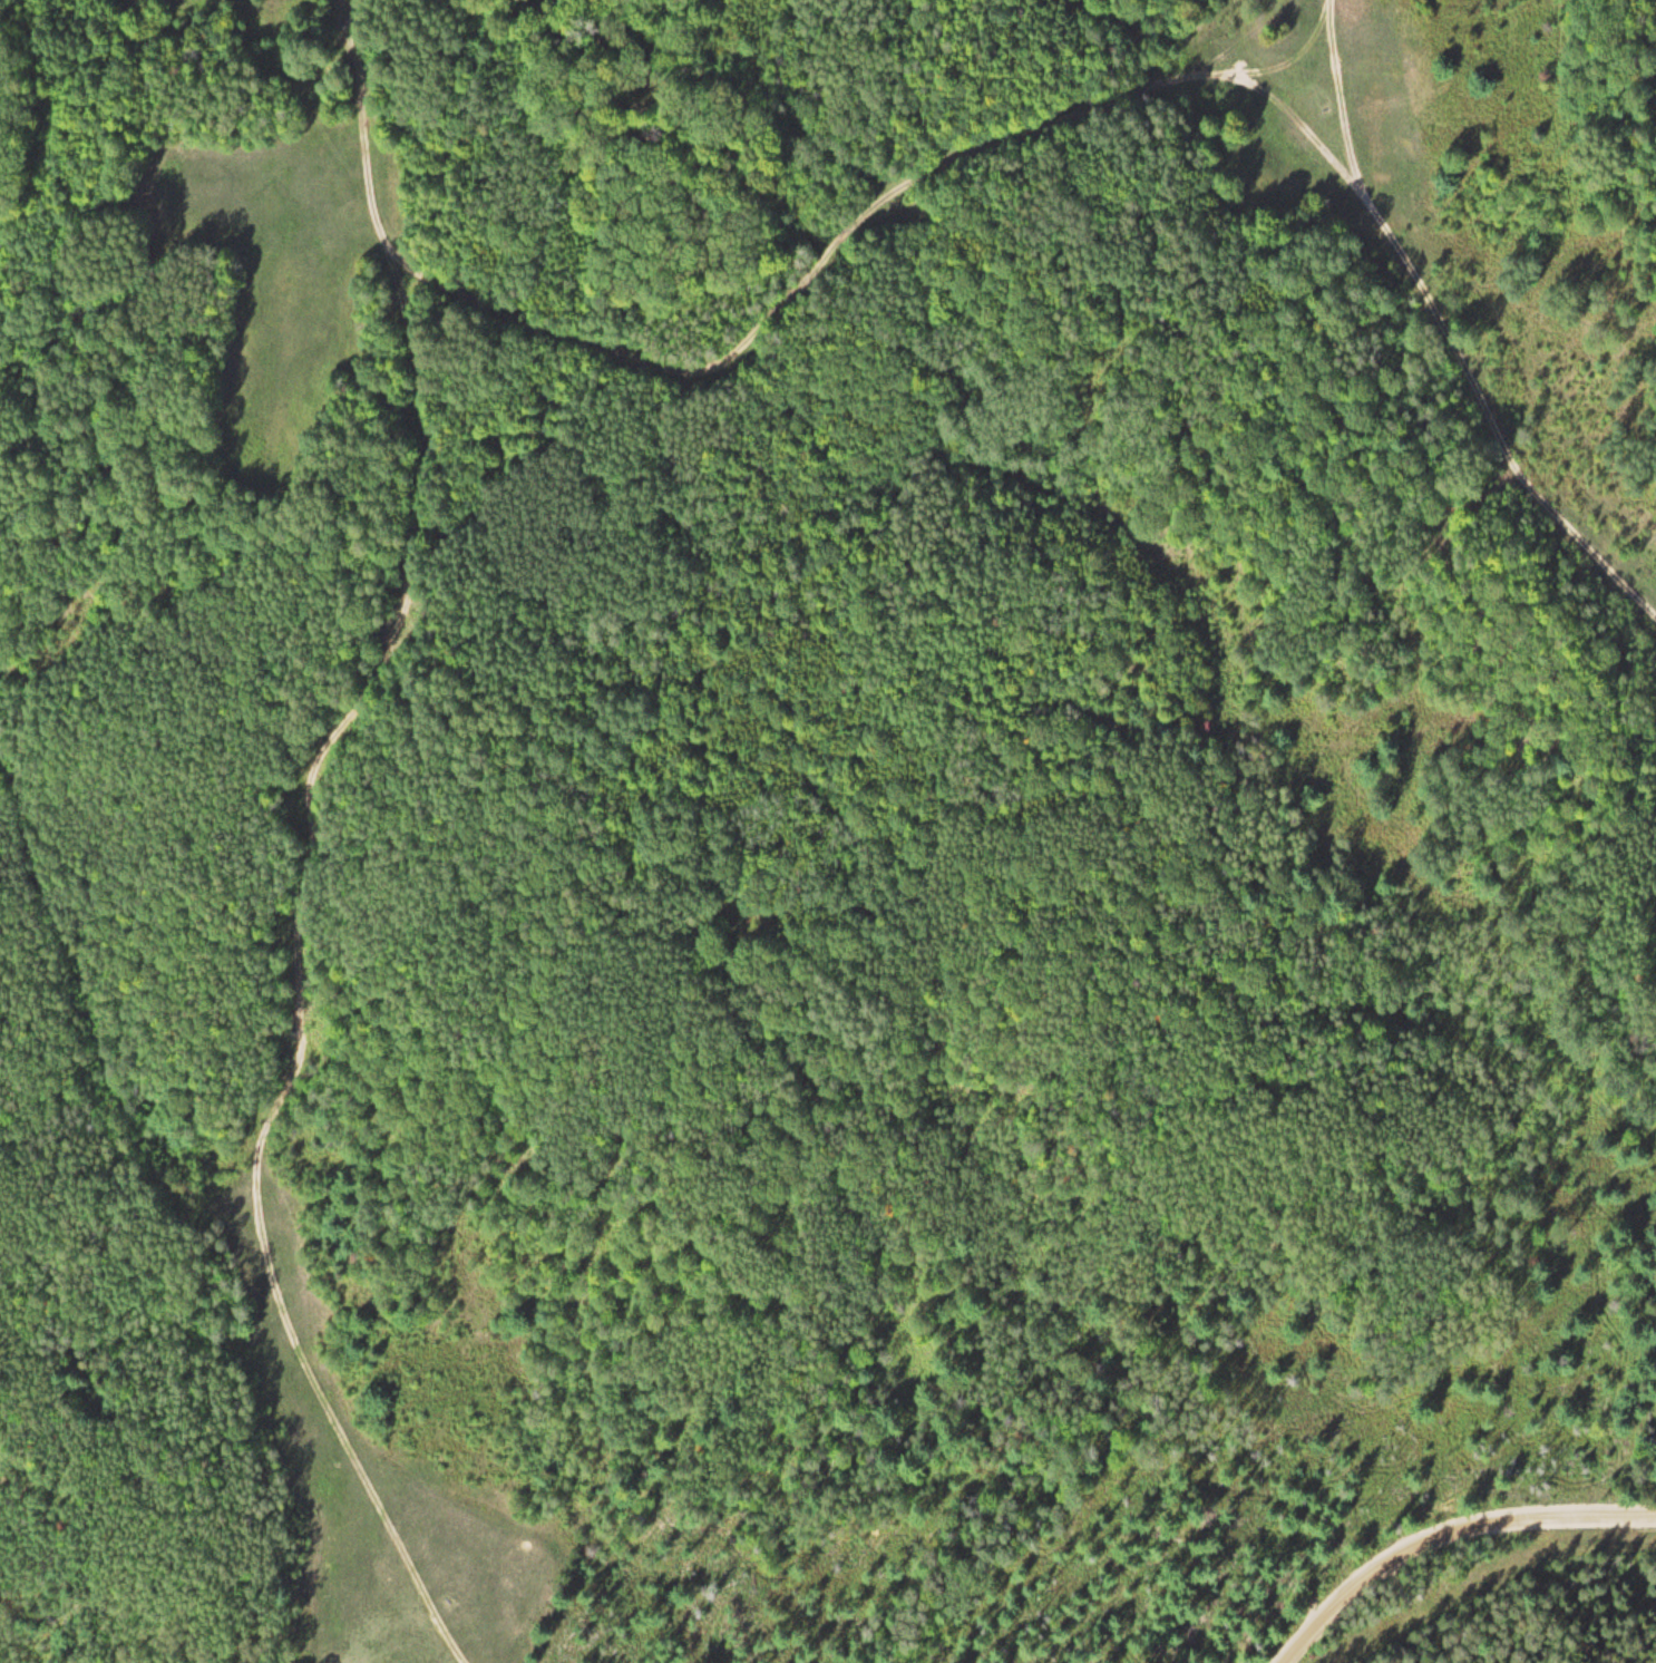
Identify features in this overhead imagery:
road: (1245, 42)
road: (1342, 105)
road: (983, 152)
road: (1443, 1529)

